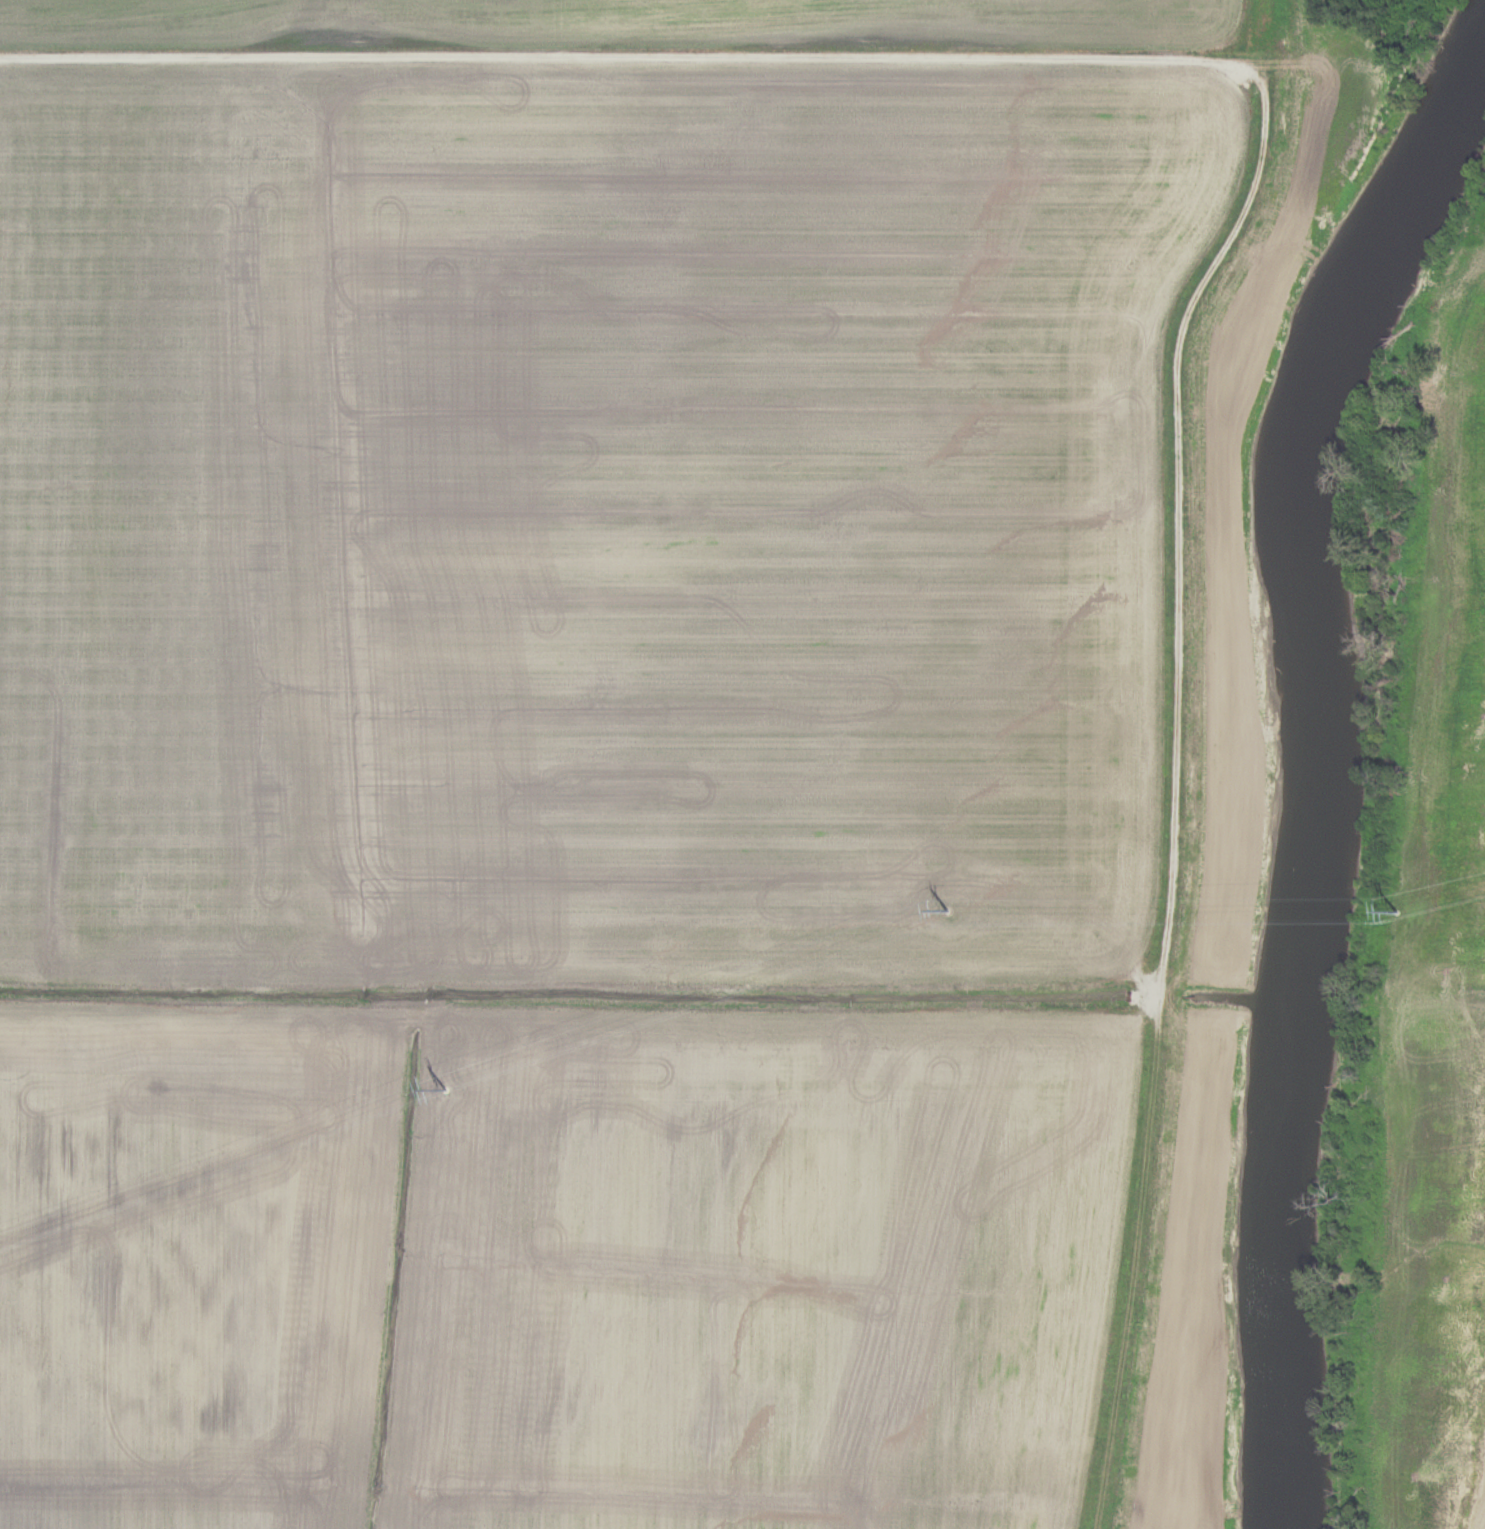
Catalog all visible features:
river: (1316, 771)
power tower: (944, 917)
power tower: (1407, 919)
power tower: (450, 1099)

